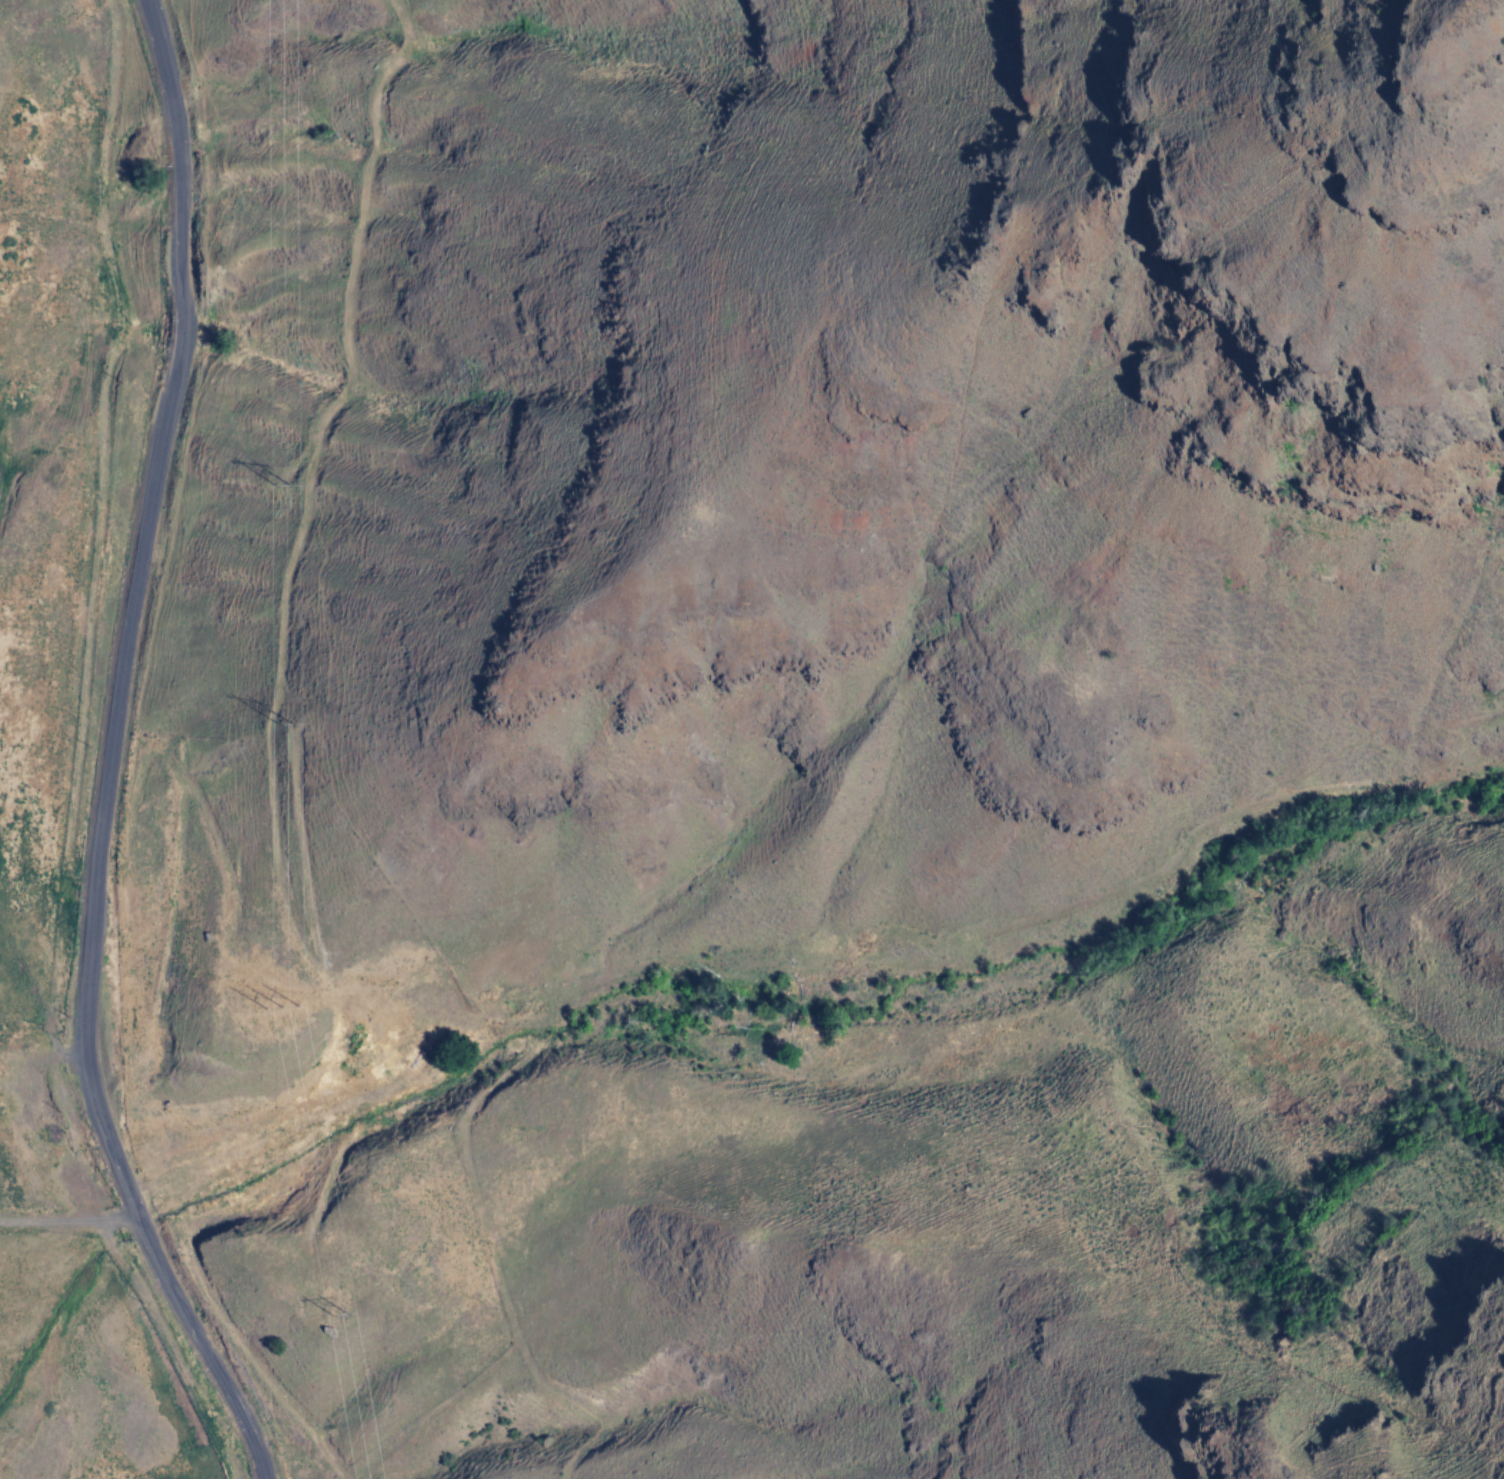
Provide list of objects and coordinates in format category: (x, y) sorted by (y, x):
power tower: (277, 486)
power tower: (277, 723)
road: (109, 754)
power tower: (279, 1008)
power tower: (333, 1315)

